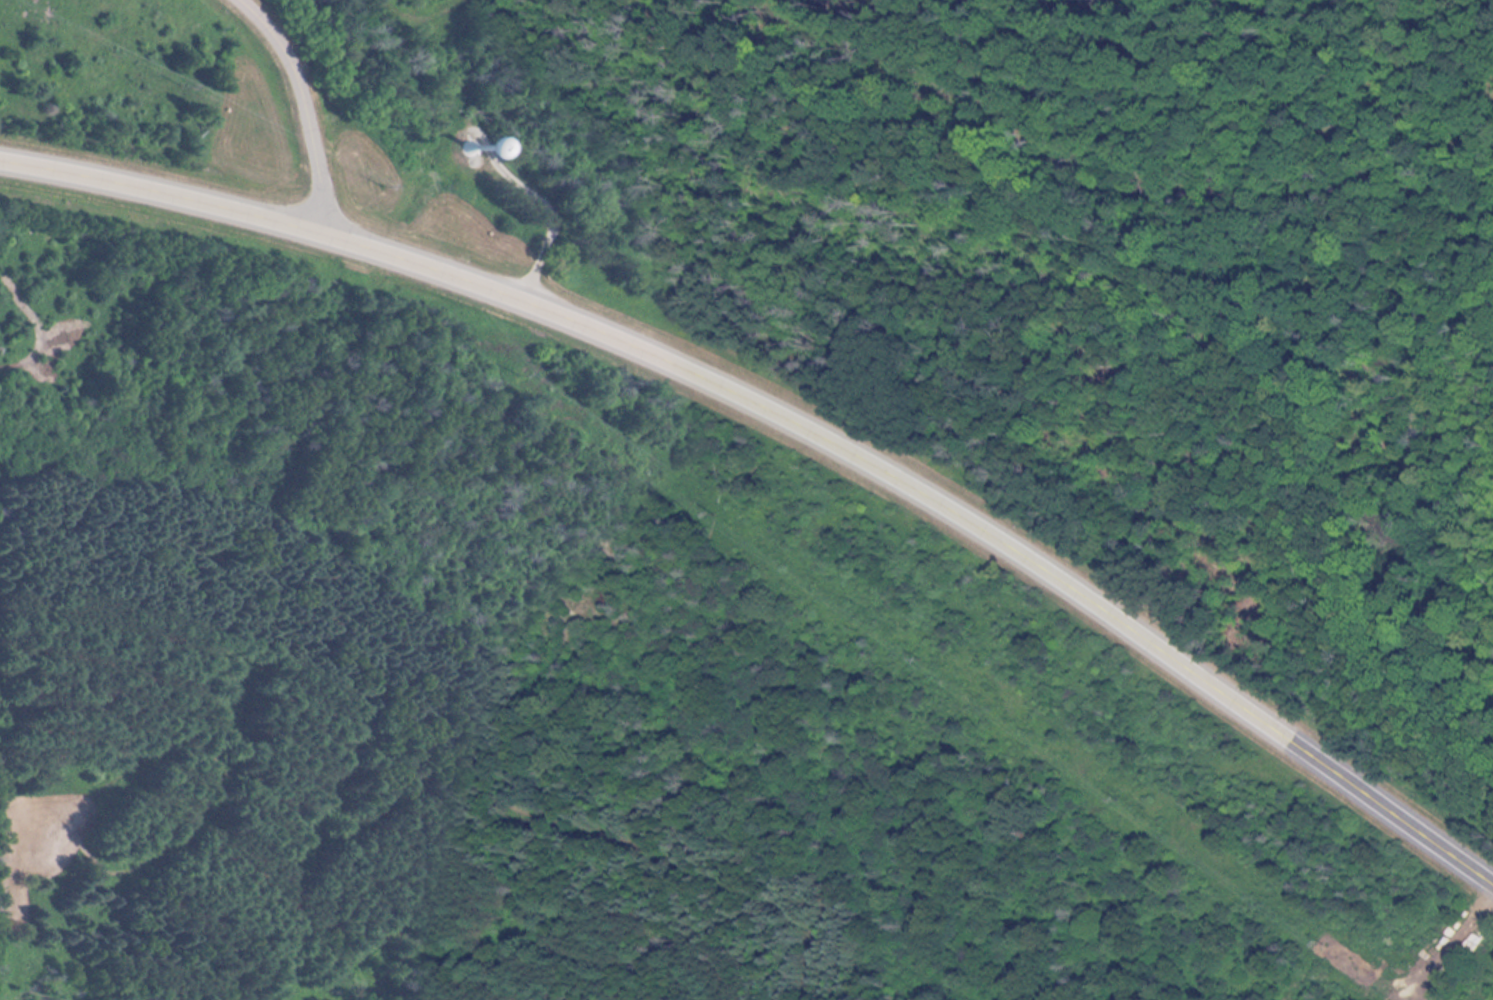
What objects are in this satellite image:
road: (303, 106)
building: (486, 145)
road: (792, 416)

